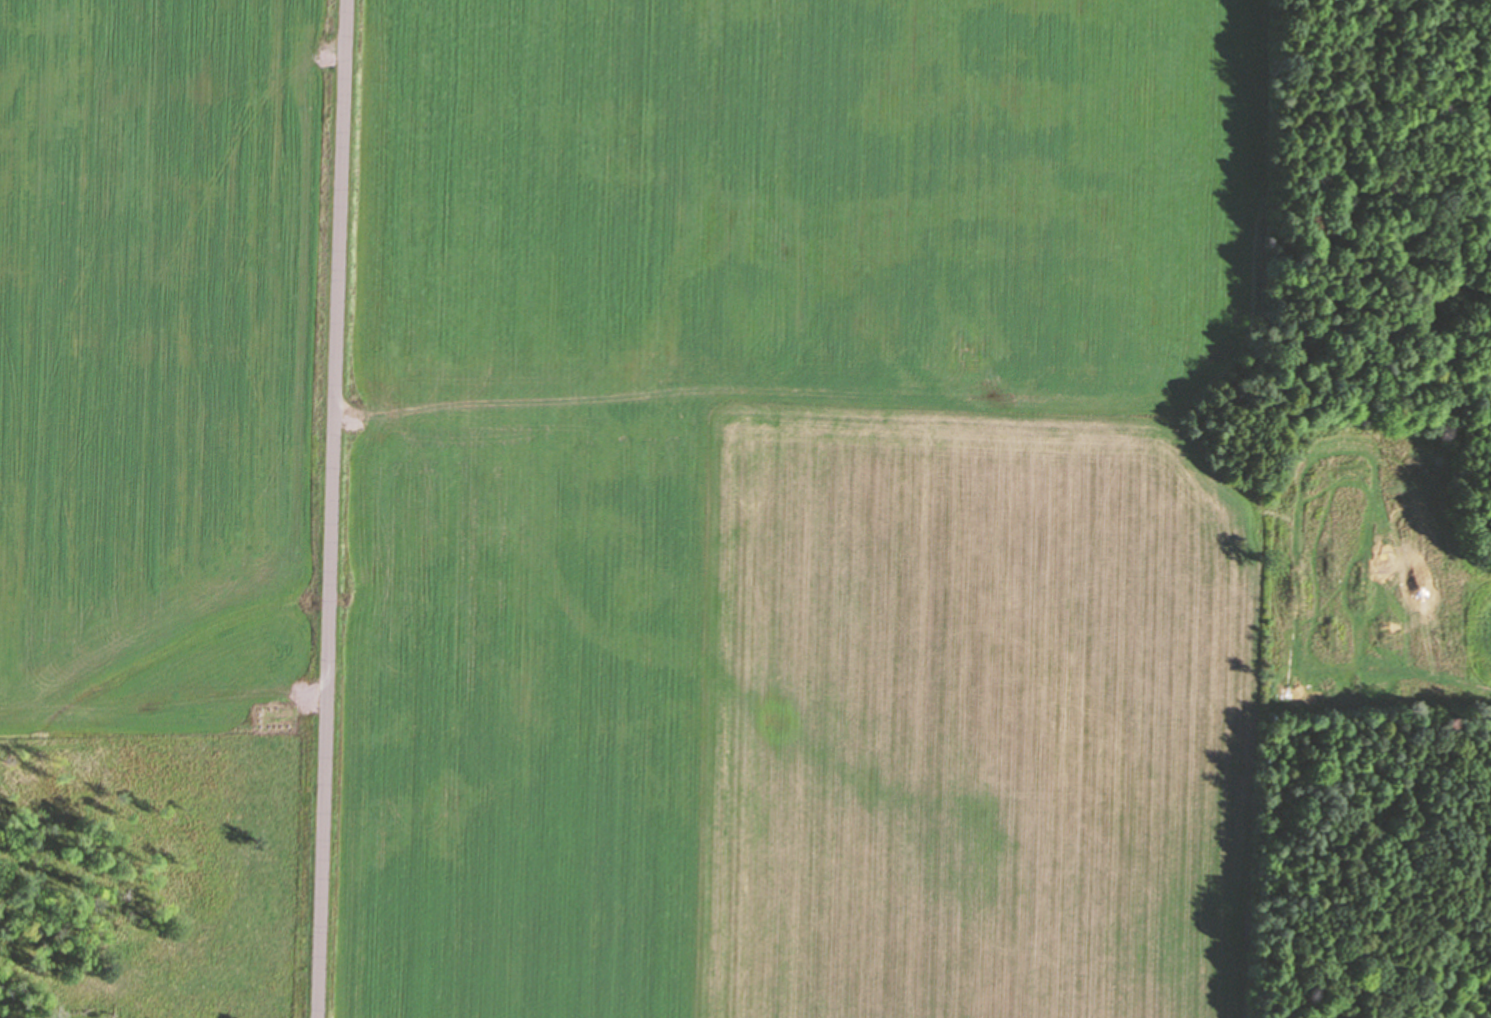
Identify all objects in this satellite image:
road: (340, 509)

